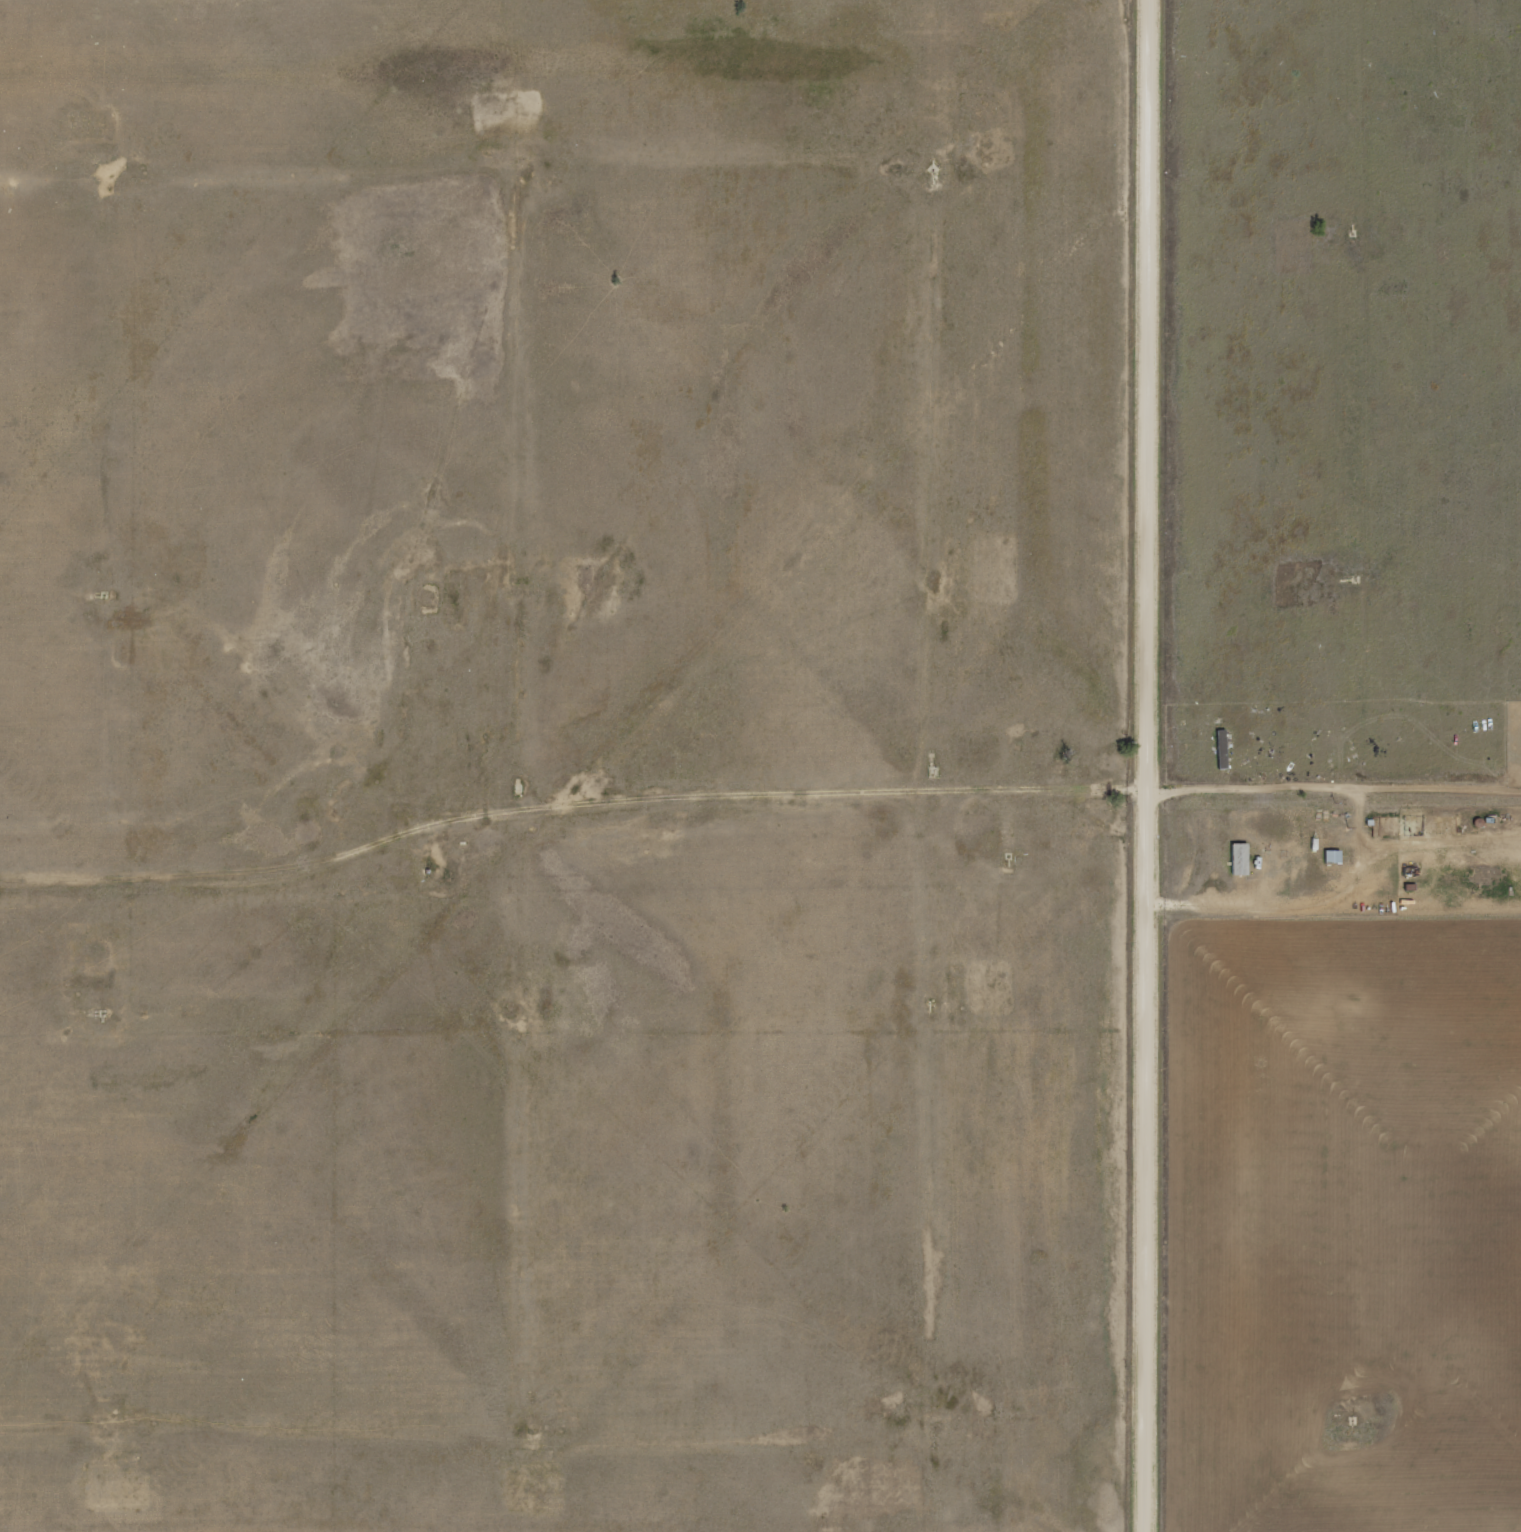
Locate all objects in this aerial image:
road: (1153, 766)
building: (1333, 855)
building: (1240, 858)

